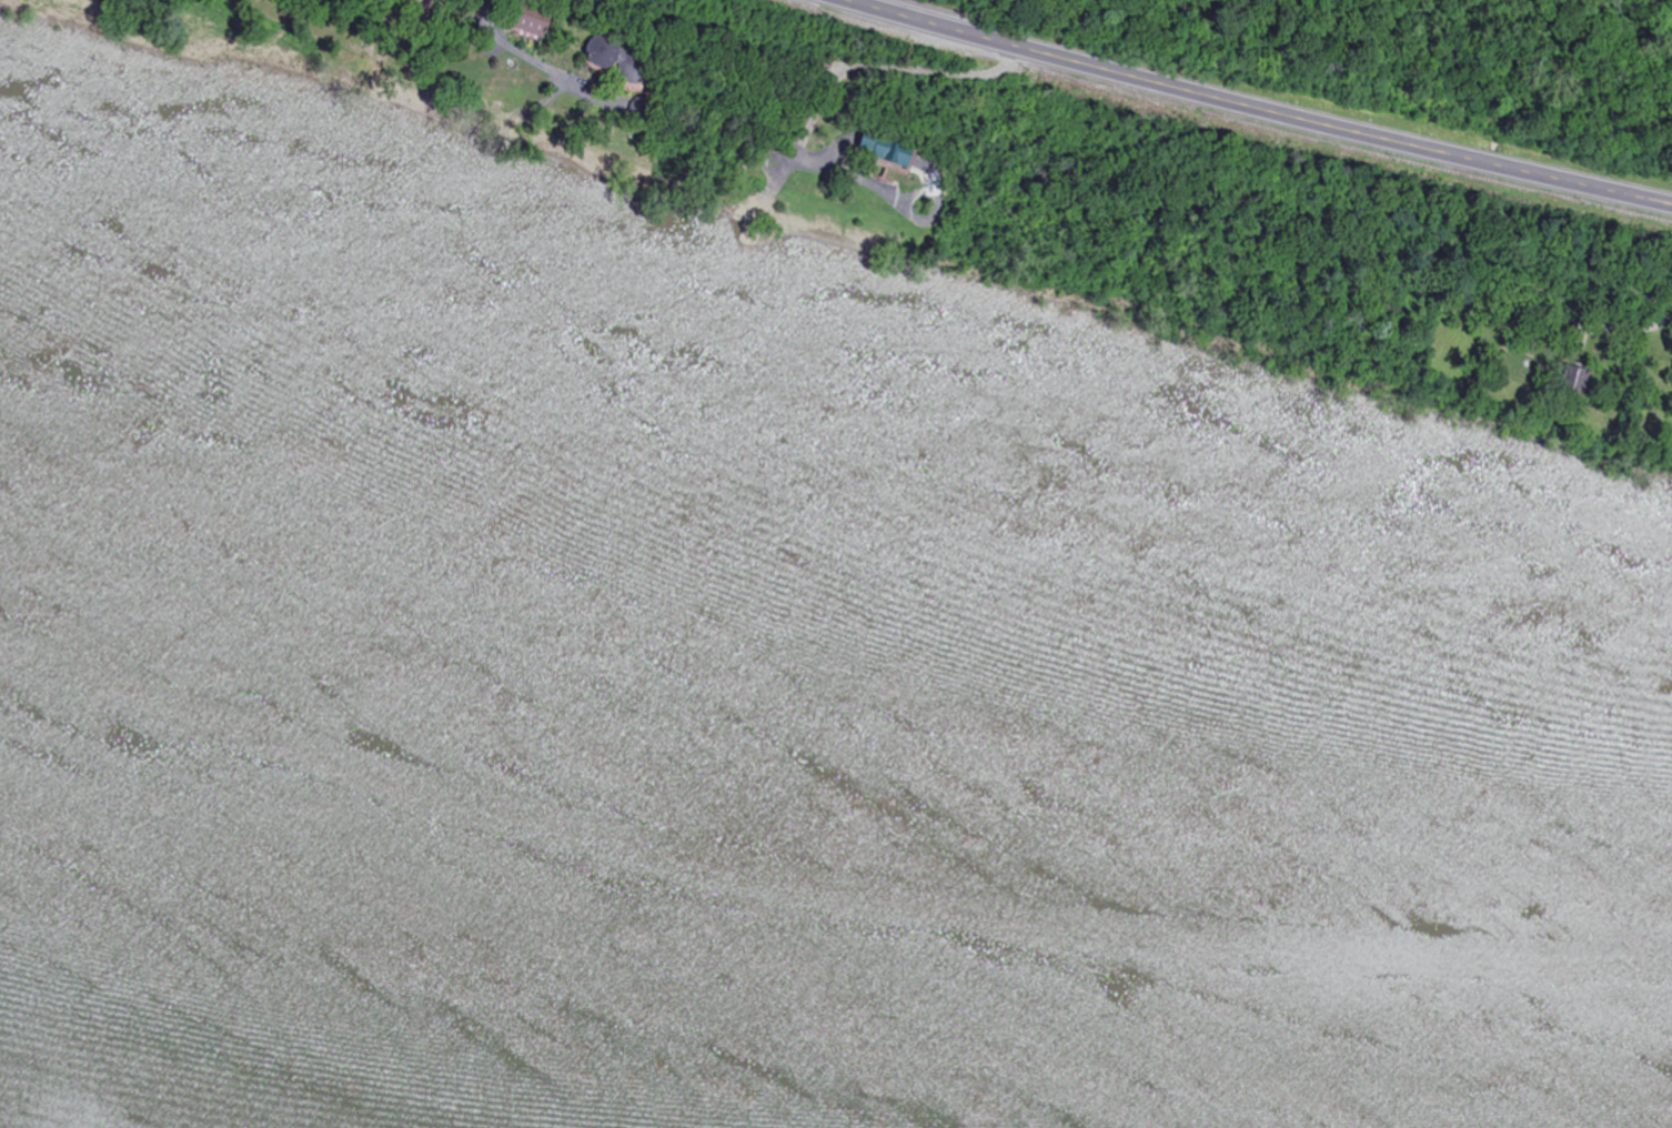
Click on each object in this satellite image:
road: (855, 1)
building: (422, 4)
building: (536, 23)
building: (618, 60)
road: (1265, 105)
building: (892, 150)
river: (827, 943)

